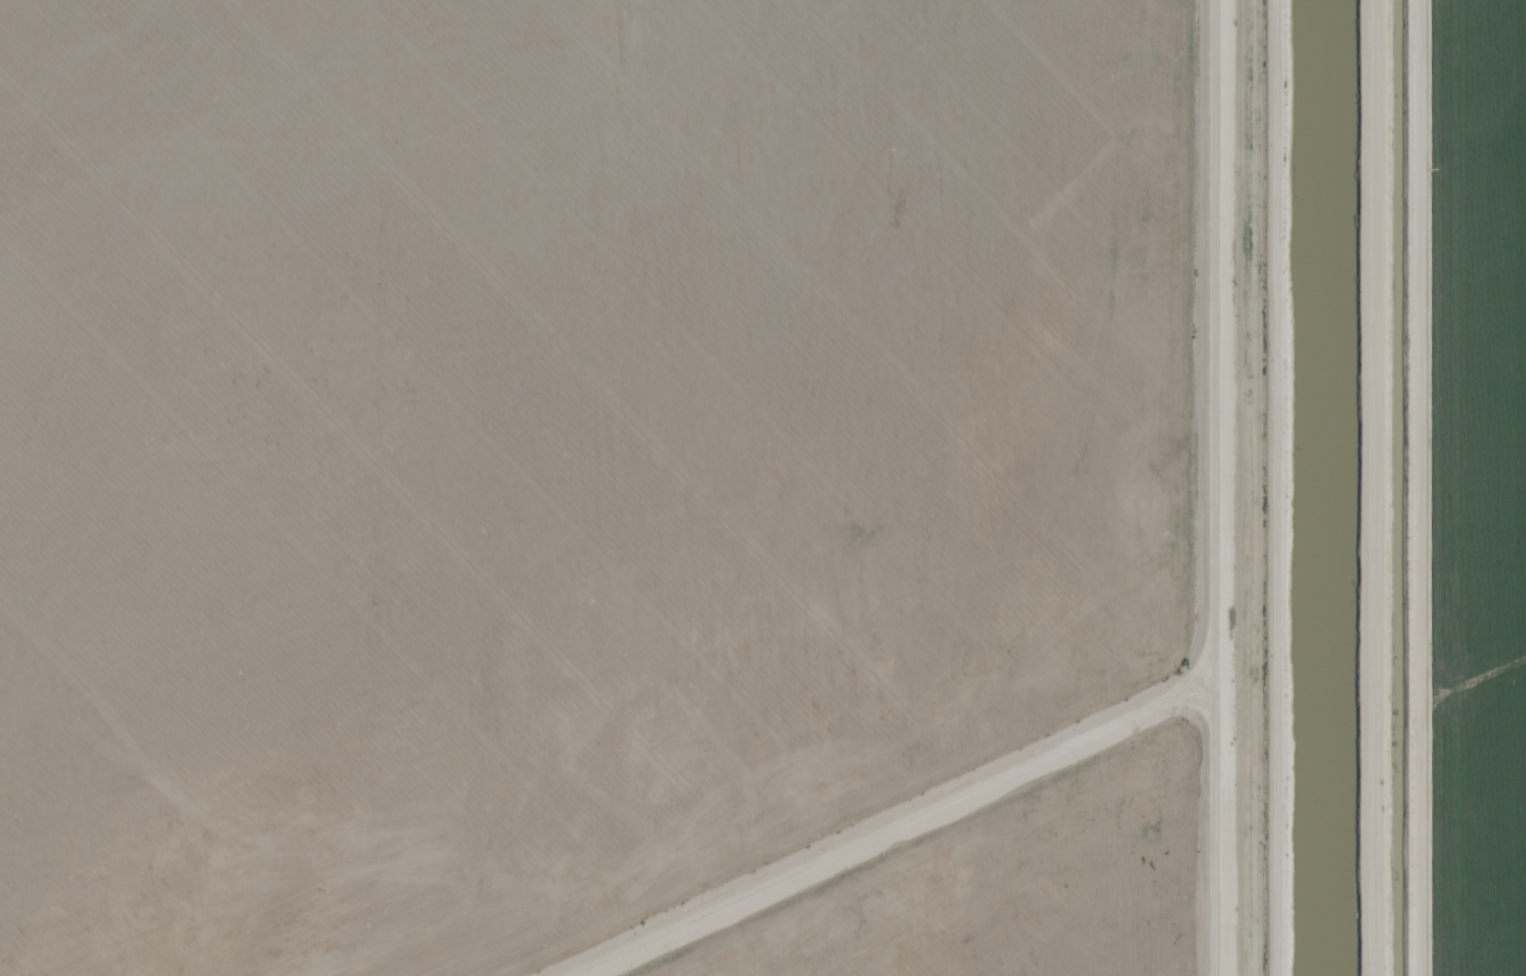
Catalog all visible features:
road: (1345, 488)

